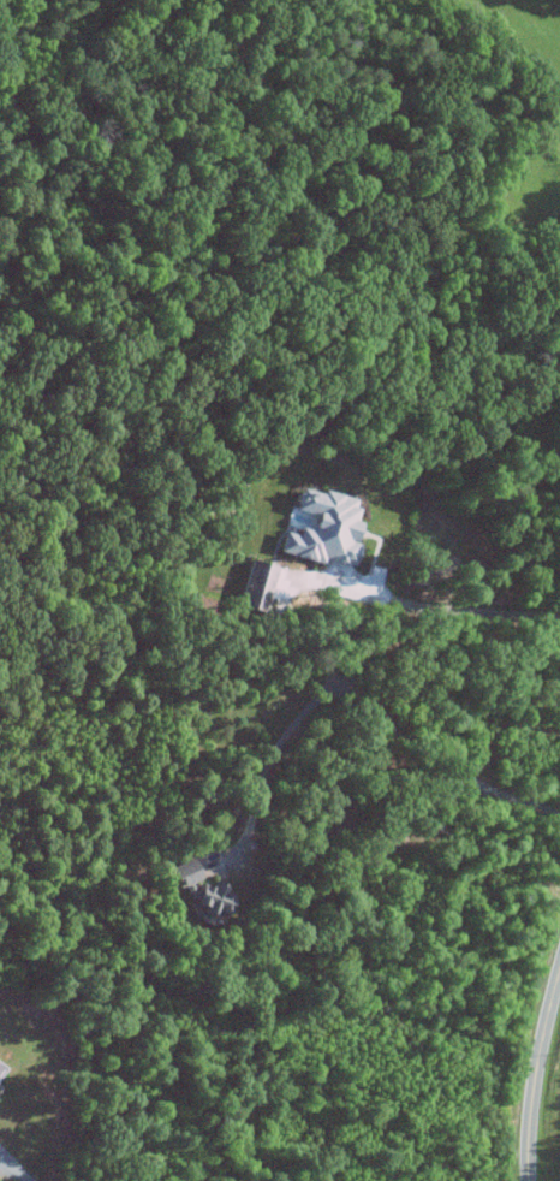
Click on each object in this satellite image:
building: (318, 530)
building: (254, 584)
road: (458, 610)
road: (367, 696)
building: (180, 872)
building: (209, 898)
road: (534, 1073)
road: (13, 1169)

